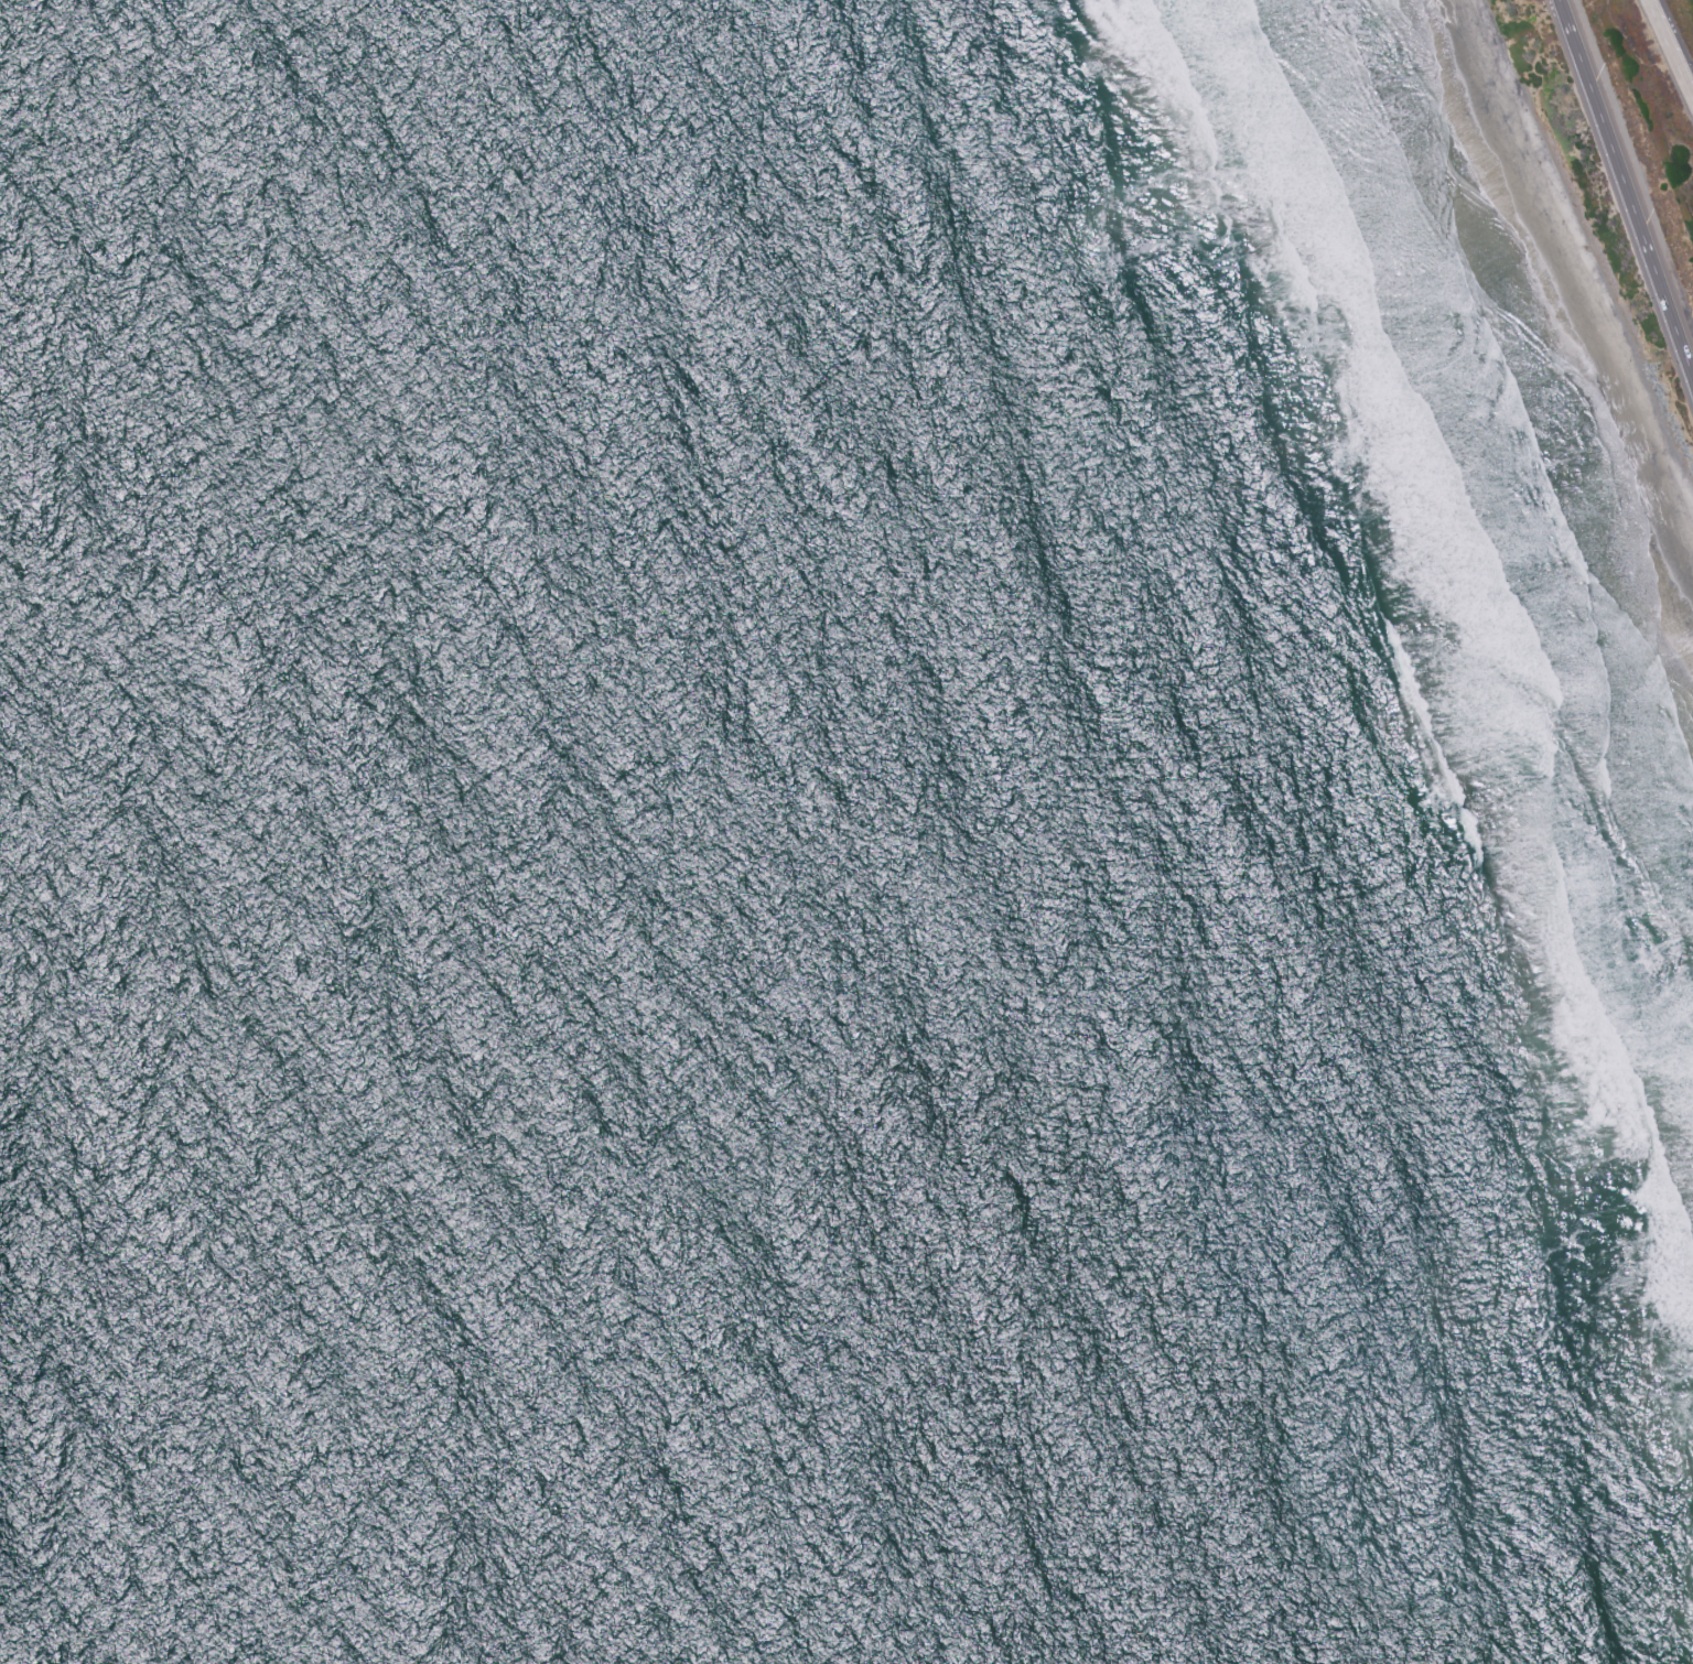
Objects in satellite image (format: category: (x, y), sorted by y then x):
road: (1671, 46)
road: (1624, 191)

